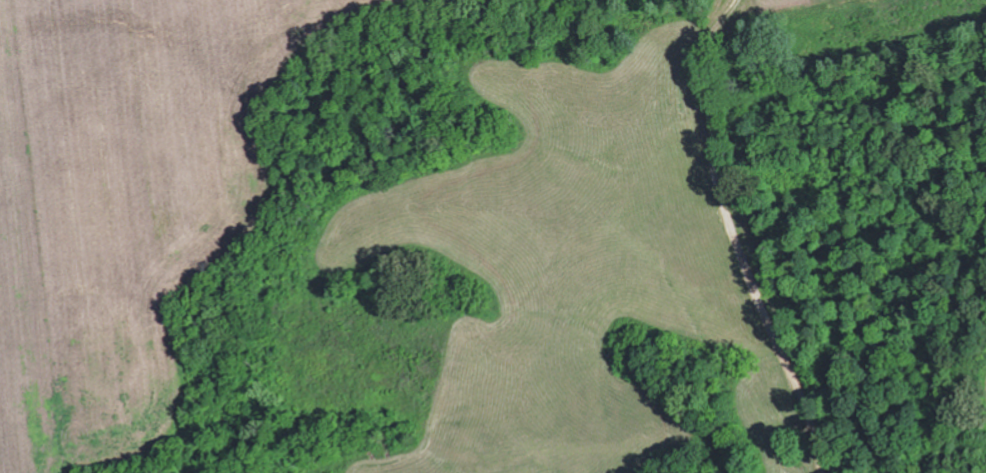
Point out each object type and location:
road: (732, 235)

